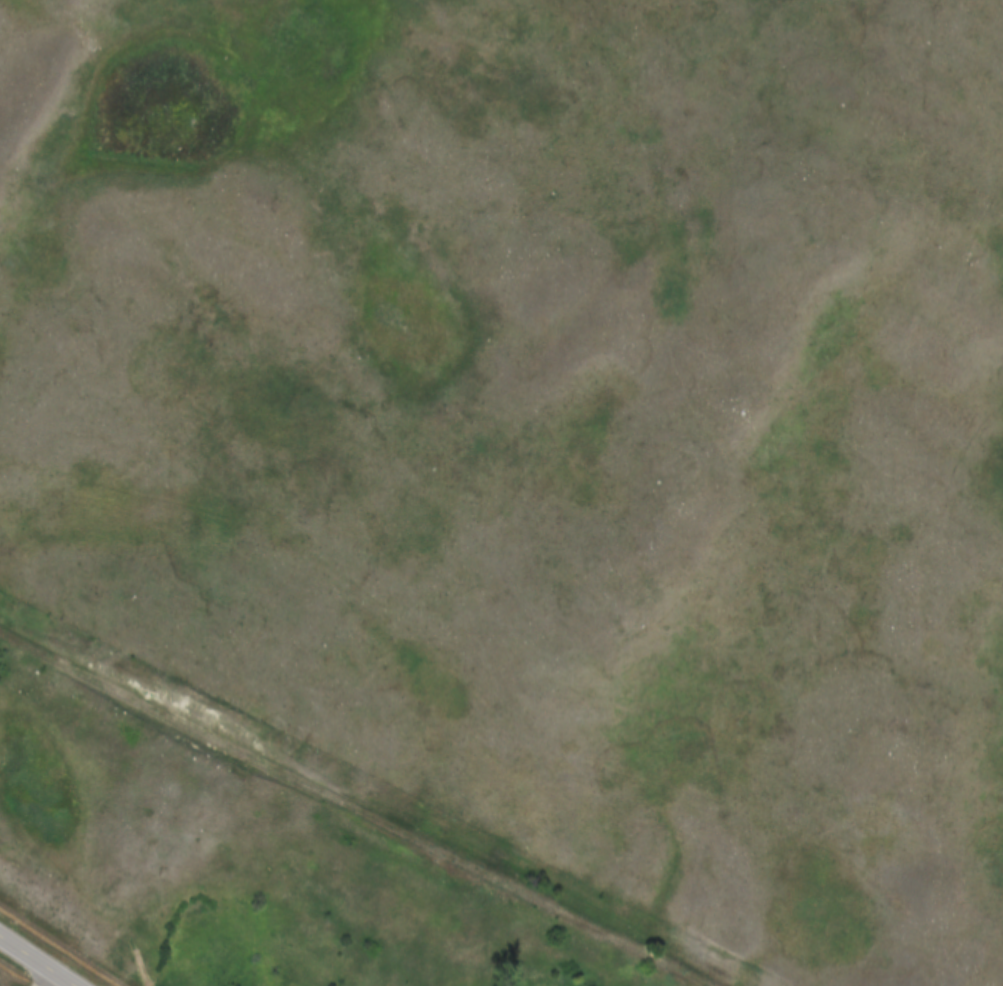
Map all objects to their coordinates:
road: (43, 957)

